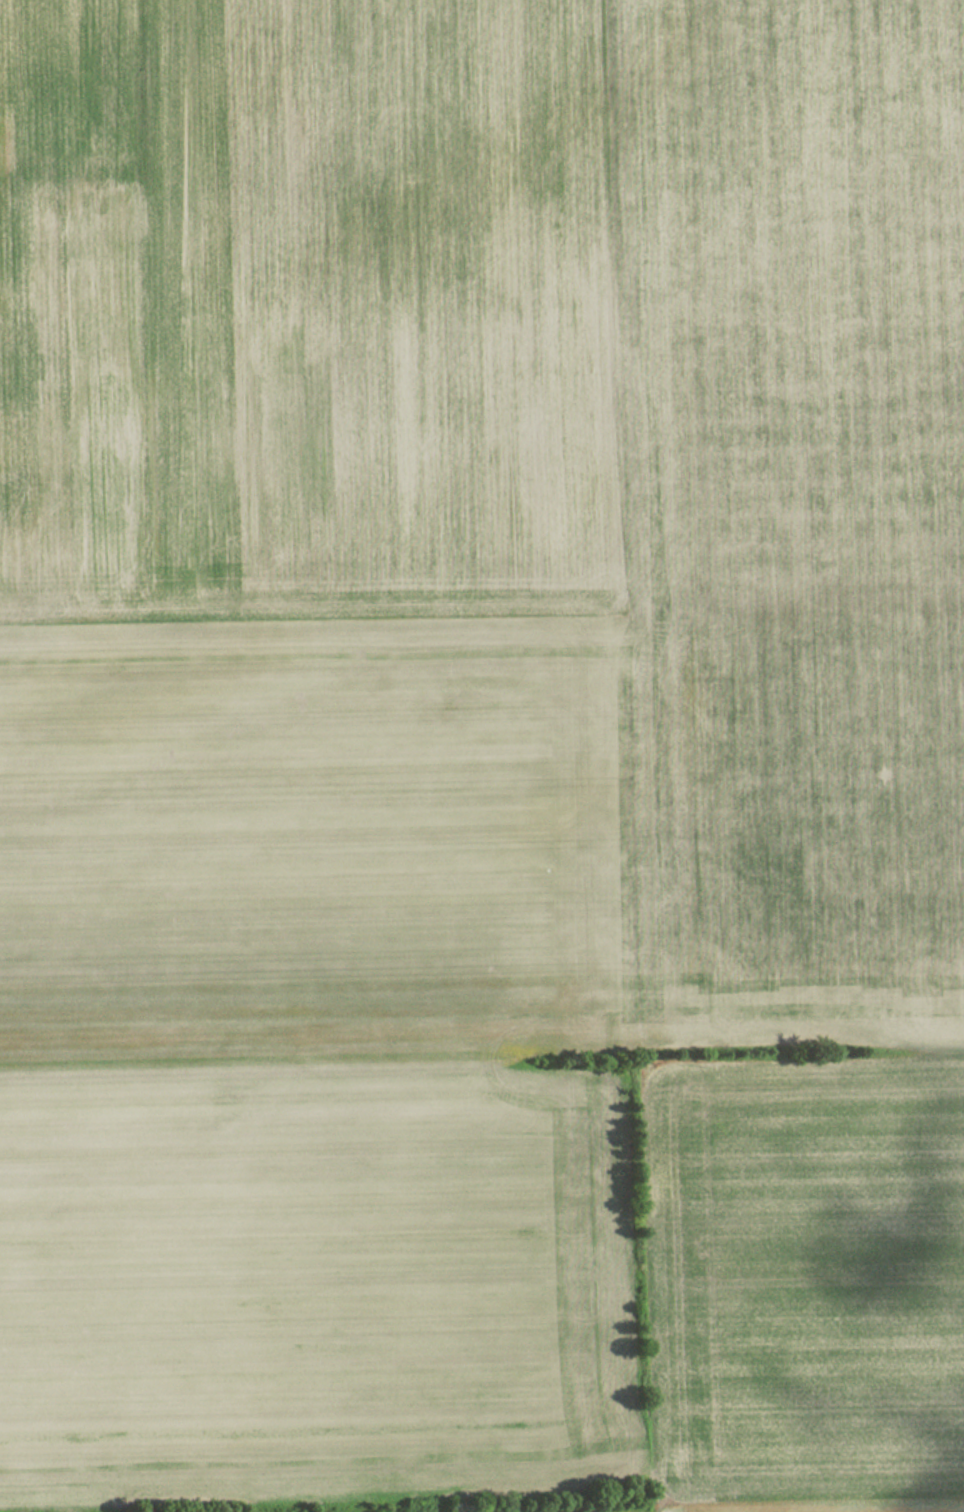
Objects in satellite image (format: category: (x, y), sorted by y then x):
crop: (543, 412)
crop: (308, 1052)
crop: (804, 1285)

